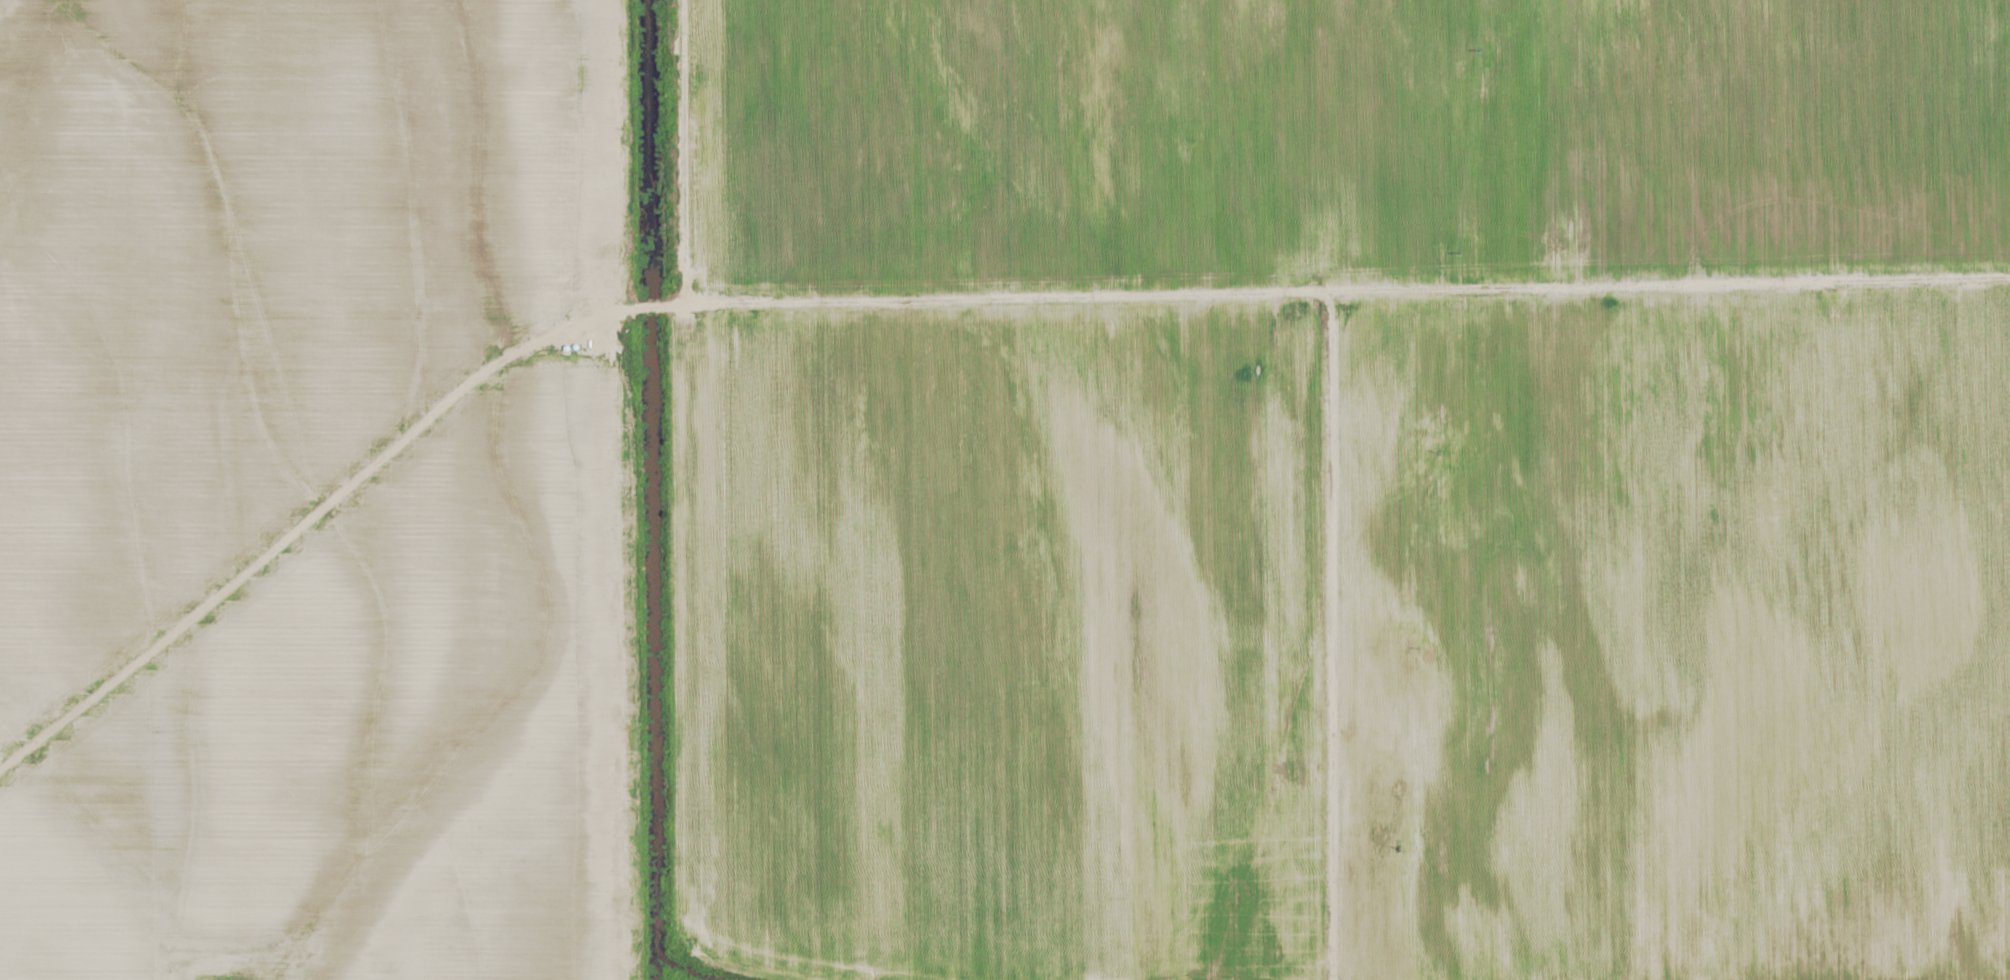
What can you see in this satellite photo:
road: (686, 152)
road: (1346, 295)
road: (323, 504)
road: (1330, 637)

